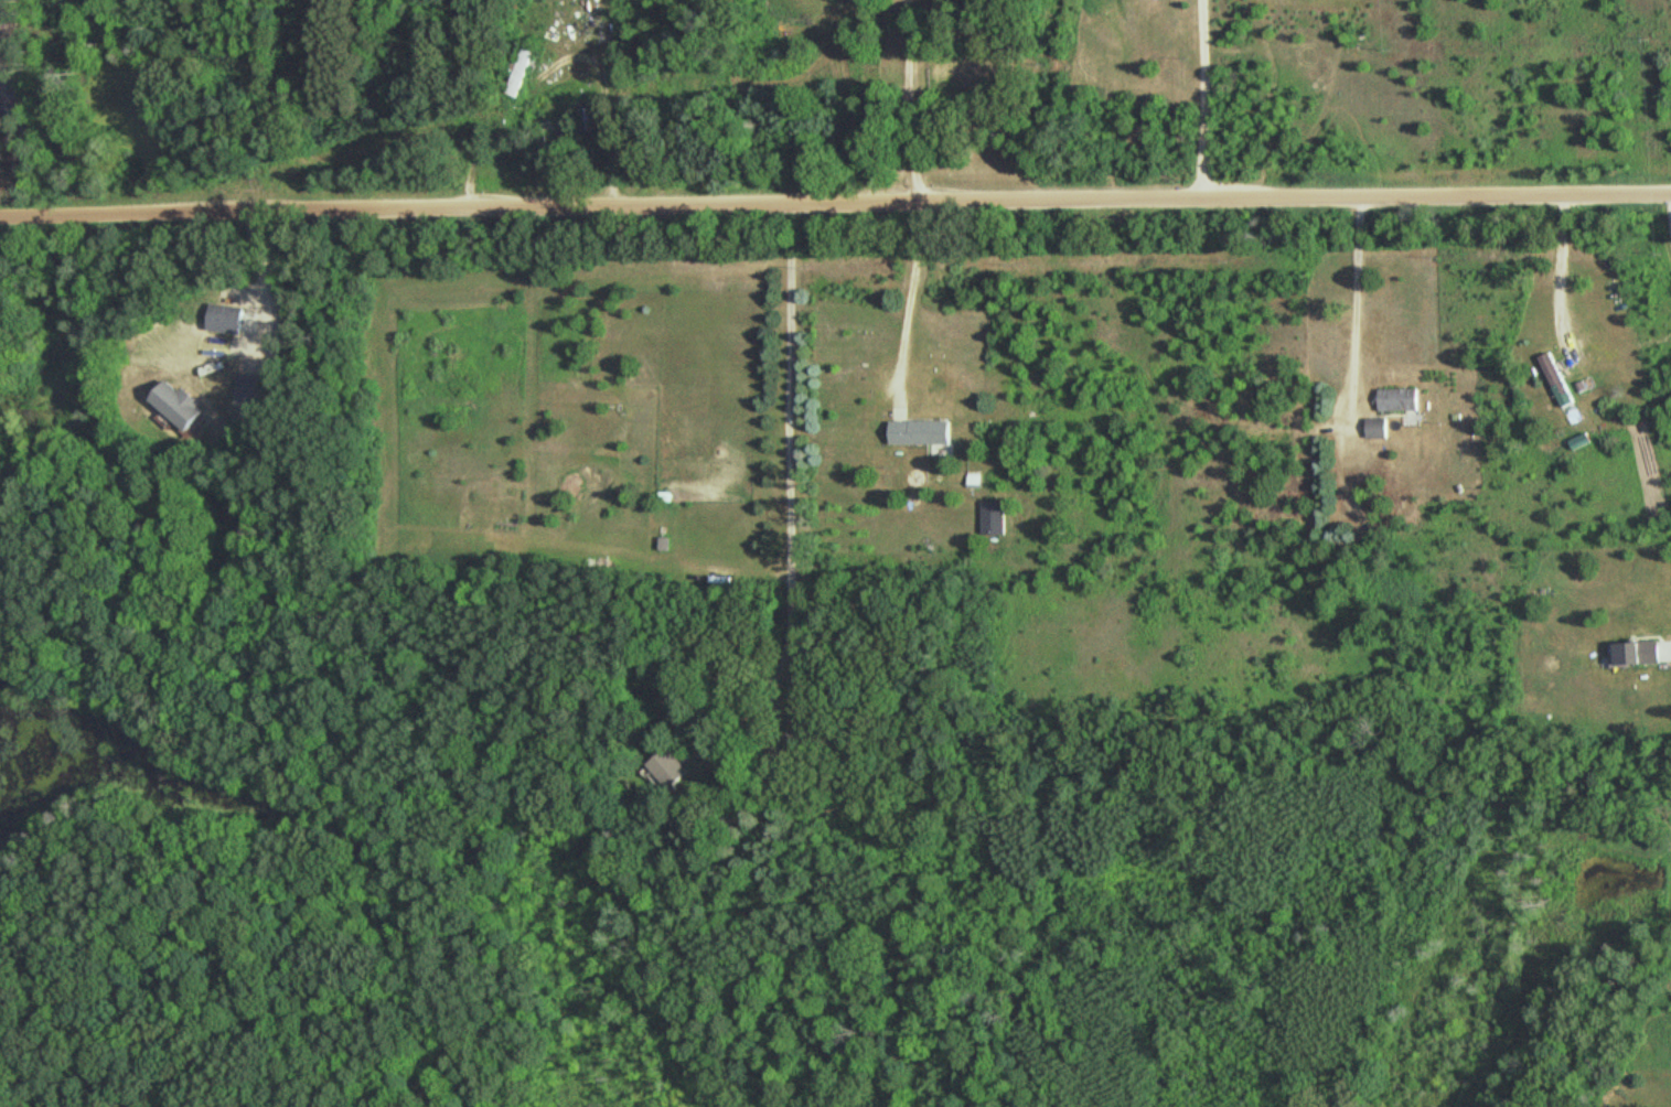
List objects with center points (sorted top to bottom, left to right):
building: (526, 0)
building: (522, 73)
road: (1201, 98)
road: (911, 99)
road: (606, 104)
building: (589, 121)
road: (835, 201)
road: (1668, 218)
road: (1564, 258)
road: (265, 270)
road: (1351, 303)
road: (904, 304)
building: (225, 322)
building: (1558, 384)
building: (243, 397)
building: (1399, 402)
building: (176, 409)
building: (1378, 430)
building: (921, 434)
road: (786, 476)
building: (994, 522)
building: (1638, 654)
building: (667, 772)

